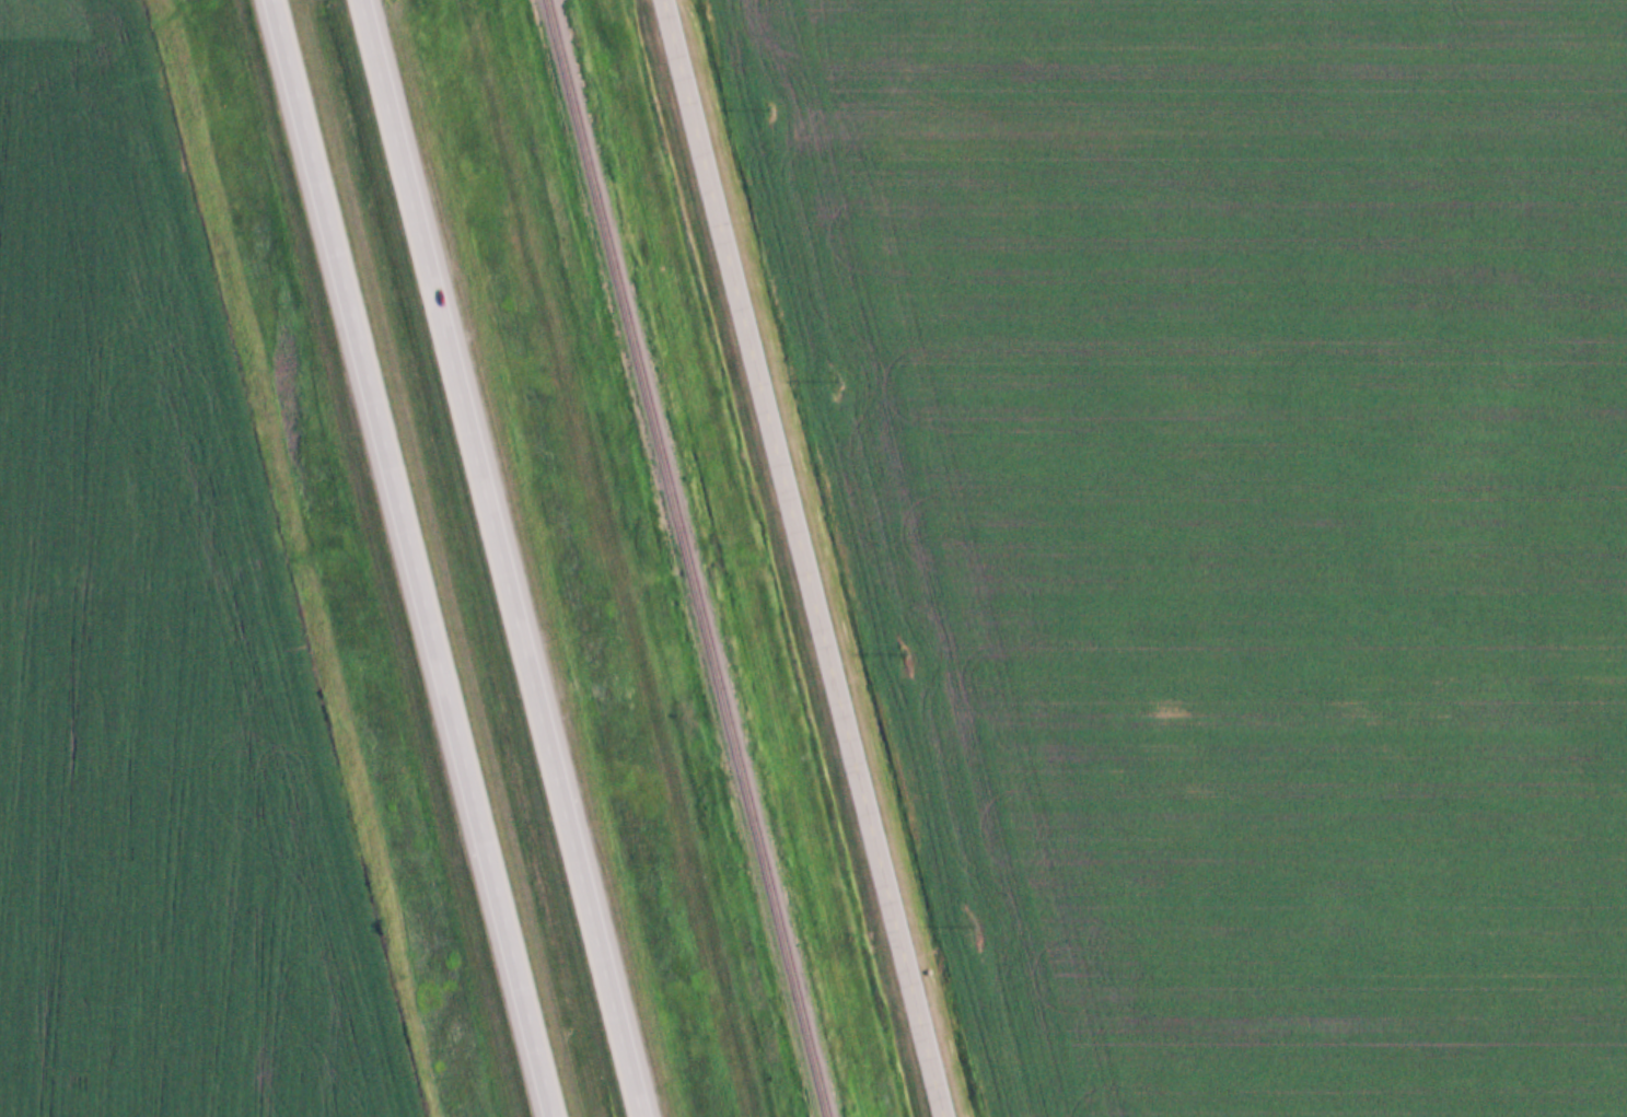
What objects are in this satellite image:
road: (416, 558)
road: (505, 558)
railway: (684, 558)
road: (805, 558)

